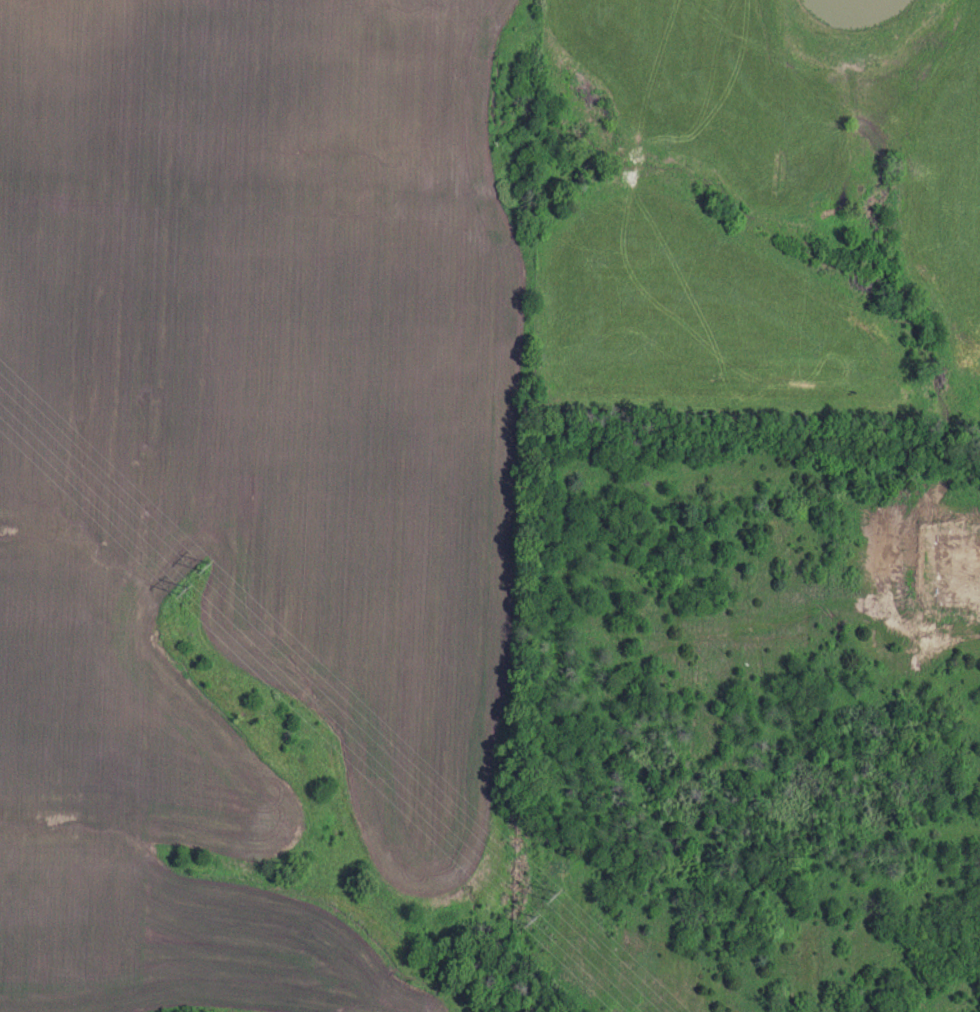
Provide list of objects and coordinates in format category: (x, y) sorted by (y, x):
power tower: (194, 570)
power tower: (170, 592)
power tower: (543, 898)
power tower: (518, 922)

